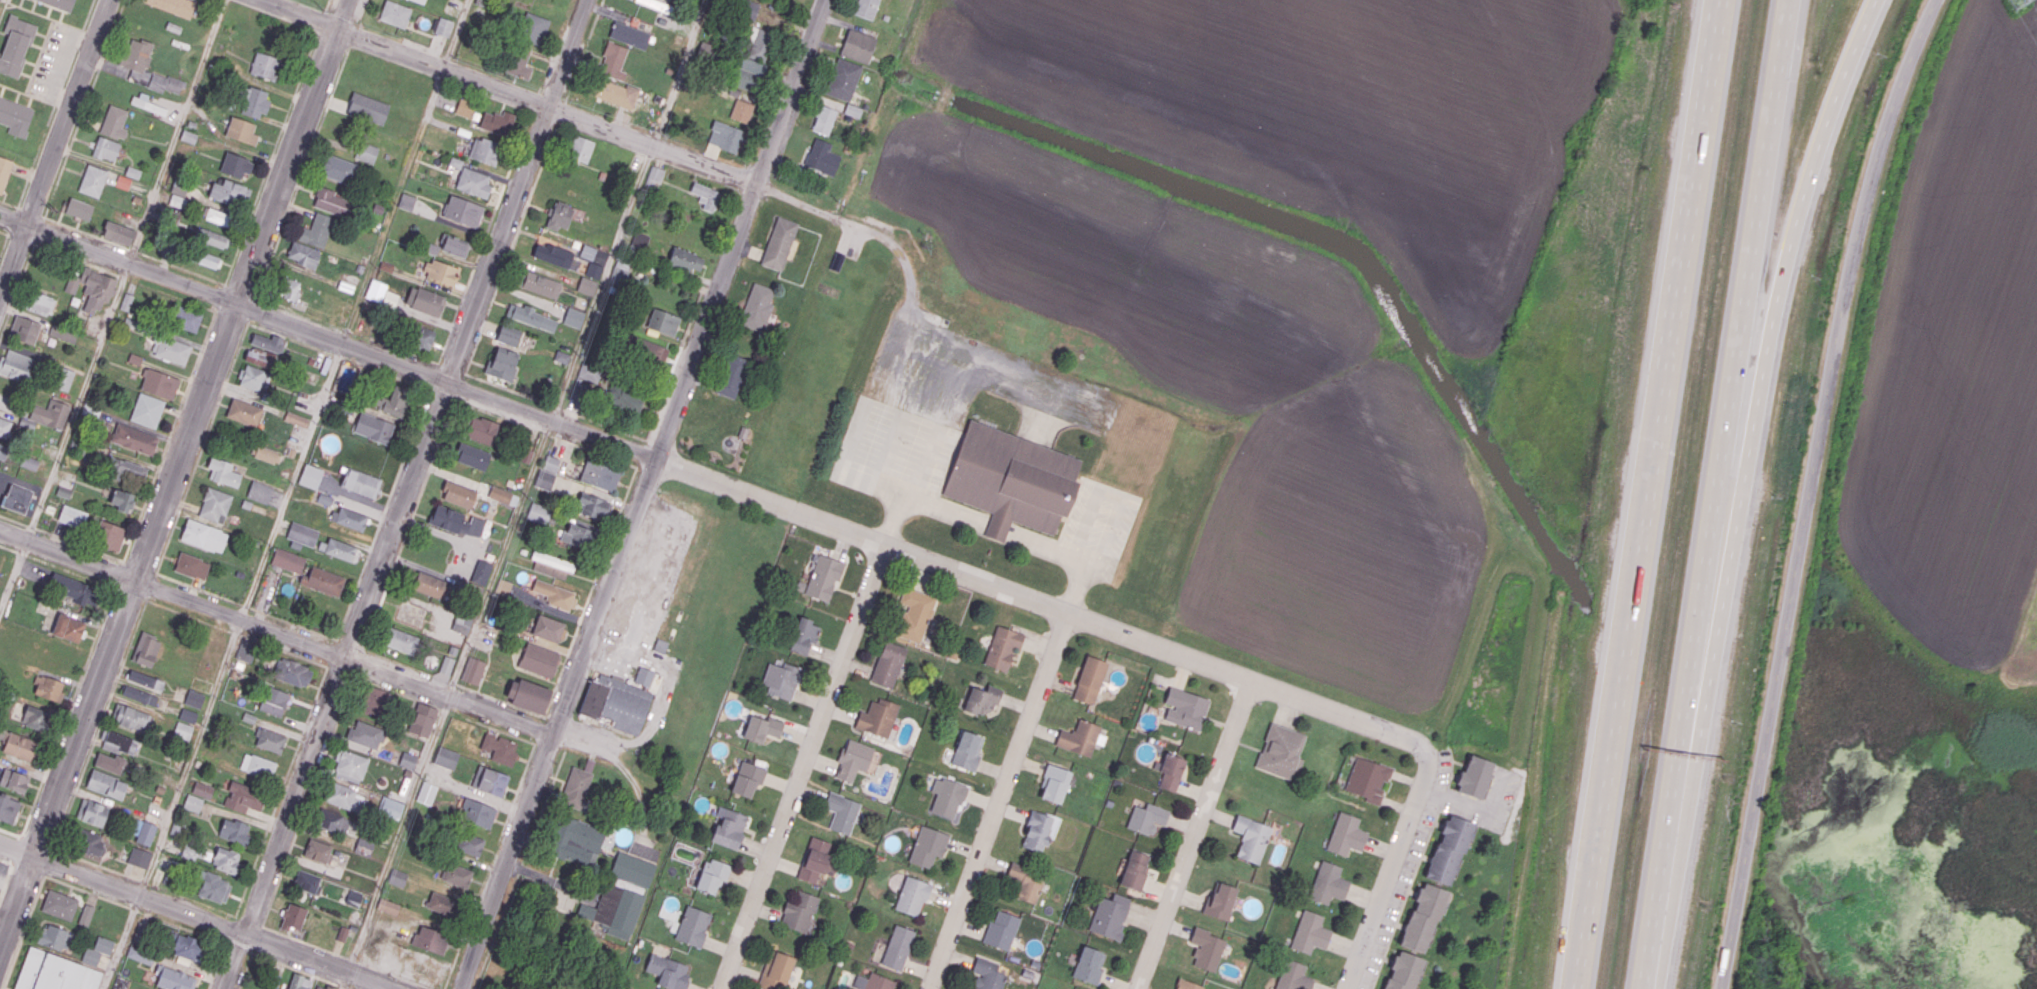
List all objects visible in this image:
building: (419, 1)
power tower: (2014, 1)
building: (60, 3)
building: (654, 4)
building: (174, 6)
building: (866, 8)
building: (750, 9)
building: (394, 13)
building: (443, 26)
building: (533, 28)
building: (629, 35)
building: (758, 43)
building: (15, 45)
building: (858, 46)
building: (613, 60)
building: (519, 61)
building: (265, 65)
building: (146, 67)
building: (748, 74)
building: (843, 79)
road: (511, 89)
building: (614, 92)
building: (254, 102)
building: (148, 104)
building: (465, 107)
building: (368, 108)
building: (741, 110)
crop: (1326, 115)
building: (15, 116)
building: (824, 119)
building: (114, 122)
building: (497, 122)
building: (242, 131)
building: (725, 136)
road: (53, 148)
building: (106, 148)
building: (580, 149)
building: (485, 150)
building: (366, 152)
building: (822, 157)
building: (235, 166)
building: (339, 169)
building: (4, 171)
building: (654, 177)
building: (93, 180)
building: (473, 182)
building: (228, 192)
building: (705, 195)
building: (406, 201)
building: (332, 202)
building: (79, 208)
building: (462, 211)
building: (560, 215)
building: (219, 217)
building: (316, 230)
road: (4, 232)
building: (118, 233)
building: (209, 236)
road: (1797, 238)
road: (21, 239)
road: (1756, 240)
building: (638, 242)
building: (779, 243)
building: (454, 245)
building: (552, 252)
building: (587, 252)
building: (303, 254)
road: (77, 259)
building: (206, 259)
building: (685, 260)
building: (593, 270)
building: (439, 272)
building: (619, 272)
road: (125, 277)
building: (539, 284)
building: (586, 285)
building: (290, 288)
building: (380, 293)
road: (524, 294)
road: (173, 295)
building: (424, 300)
building: (126, 301)
building: (38, 303)
building: (756, 306)
road: (113, 307)
building: (186, 317)
road: (231, 317)
building: (531, 317)
building: (573, 317)
building: (663, 322)
building: (24, 329)
road: (911, 329)
building: (62, 333)
building: (507, 335)
building: (422, 336)
road: (291, 339)
building: (268, 342)
building: (170, 349)
road: (578, 349)
building: (646, 350)
road: (339, 356)
building: (561, 356)
building: (260, 357)
building: (502, 363)
building: (15, 364)
building: (589, 372)
road: (386, 374)
building: (733, 375)
building: (64, 377)
building: (253, 378)
building: (159, 383)
road: (442, 395)
building: (624, 399)
crop: (1239, 399)
building: (393, 401)
building: (147, 410)
building: (244, 412)
building: (50, 414)
road: (499, 415)
building: (296, 419)
road: (191, 427)
building: (373, 427)
building: (4, 428)
building: (481, 429)
road: (548, 433)
building: (134, 439)
road: (305, 447)
building: (3, 450)
road: (595, 451)
building: (267, 454)
building: (473, 456)
building: (28, 462)
building: (551, 463)
road: (415, 465)
building: (125, 469)
building: (223, 472)
building: (598, 475)
building: (310, 476)
building: (545, 479)
building: (1009, 479)
road: (711, 480)
building: (360, 482)
road: (1807, 488)
building: (259, 491)
building: (458, 494)
road: (643, 494)
road: (1639, 494)
building: (503, 495)
building: (16, 498)
building: (121, 500)
building: (214, 505)
building: (593, 506)
building: (539, 512)
road: (383, 514)
building: (72, 516)
building: (349, 518)
road: (15, 521)
building: (457, 521)
road: (410, 524)
building: (302, 533)
building: (110, 535)
building: (204, 535)
building: (580, 536)
road: (8, 547)
building: (340, 549)
road: (22, 553)
building: (287, 560)
building: (552, 564)
building: (191, 565)
road: (71, 571)
building: (482, 571)
building: (824, 577)
building: (323, 581)
building: (430, 585)
parking lot: (646, 585)
building: (503, 586)
building: (74, 589)
road: (130, 592)
building: (555, 594)
building: (916, 610)
road: (189, 615)
building: (461, 623)
building: (68, 627)
building: (548, 628)
road: (276, 632)
road: (238, 633)
building: (805, 635)
building: (401, 640)
road: (350, 644)
building: (1004, 646)
building: (145, 649)
building: (246, 650)
road: (286, 651)
road: (332, 652)
road: (646, 652)
building: (539, 659)
building: (890, 664)
building: (446, 665)
building: (473, 670)
road: (340, 671)
building: (292, 672)
building: (644, 676)
building: (783, 679)
building: (145, 680)
building: (1092, 680)
building: (48, 687)
road: (397, 691)
building: (139, 694)
building: (531, 695)
building: (194, 698)
building: (983, 699)
building: (274, 700)
building: (375, 701)
building: (615, 704)
building: (1187, 708)
road: (444, 710)
road: (67, 711)
building: (187, 715)
building: (36, 717)
building: (129, 717)
building: (422, 719)
building: (879, 719)
road: (101, 723)
road: (493, 727)
building: (763, 728)
building: (182, 730)
building: (366, 734)
road: (1682, 734)
building: (1080, 737)
building: (269, 740)
building: (119, 743)
building: (19, 746)
building: (500, 750)
building: (968, 751)
building: (1283, 751)
building: (445, 757)
building: (854, 759)
building: (408, 760)
building: (110, 763)
building: (350, 764)
building: (257, 765)
road: (803, 766)
road: (1451, 766)
road: (623, 767)
parking lot: (1442, 769)
building: (1173, 772)
building: (1472, 773)
building: (749, 778)
building: (1368, 779)
building: (14, 780)
building: (489, 780)
building: (1055, 782)
building: (106, 784)
building: (576, 786)
building: (202, 789)
building: (426, 793)
building: (339, 794)
building: (243, 797)
building: (947, 798)
road: (308, 801)
road: (545, 801)
road: (1001, 801)
building: (192, 803)
road: (1475, 805)
parking lot: (1453, 806)
building: (391, 808)
building: (7, 809)
building: (843, 811)
building: (92, 812)
building: (478, 812)
building: (1148, 817)
building: (332, 821)
river: (1783, 825)
building: (729, 829)
building: (1039, 830)
building: (234, 831)
road: (10, 832)
building: (146, 832)
road: (398, 834)
road: (1197, 835)
building: (1345, 835)
building: (1253, 837)
building: (575, 840)
building: (85, 841)
road: (37, 842)
building: (468, 842)
building: (364, 846)
building: (929, 846)
building: (1447, 848)
building: (317, 850)
building: (138, 857)
road: (6, 860)
building: (225, 860)
building: (817, 860)
road: (98, 864)
road: (489, 866)
road: (1391, 866)
road: (520, 868)
road: (28, 869)
building: (1136, 871)
building: (456, 874)
building: (157, 875)
building: (713, 875)
building: (397, 876)
road: (6, 878)
building: (1027, 880)
road: (145, 882)
building: (307, 882)
building: (1326, 882)
building: (214, 887)
road: (1410, 887)
road: (87, 891)
road: (0, 894)
building: (623, 894)
building: (914, 896)
parking lot: (1398, 896)
building: (351, 897)
road: (192, 899)
building: (1222, 902)
building: (59, 904)
building: (444, 904)
road: (17, 905)
building: (388, 906)
road: (134, 909)
building: (800, 911)
building: (85, 914)
road: (197, 915)
building: (1111, 916)
building: (292, 917)
building: (1421, 917)
road: (249, 920)
building: (693, 926)
road: (182, 927)
road: (230, 929)
building: (1002, 930)
road: (496, 931)
road: (23, 932)
building: (342, 933)
building: (1309, 933)
building: (53, 936)
building: (141, 936)
building: (429, 938)
road: (257, 939)
road: (121, 941)
road: (305, 942)
building: (103, 945)
road: (239, 947)
building: (898, 947)
building: (187, 949)
building: (1208, 949)
building: (140, 955)
building: (90, 956)
road: (233, 960)
road: (353, 960)
building: (1090, 965)
road: (217, 966)
road: (298, 969)
road: (246, 970)
building: (776, 970)
building: (668, 971)
building: (1401, 971)
building: (53, 972)
building: (989, 974)
road: (395, 975)
building: (1291, 976)
building: (173, 978)
road: (345, 980)
building: (272, 981)
building: (299, 982)
building: (878, 982)
building: (1188, 984)
building: (328, 986)

